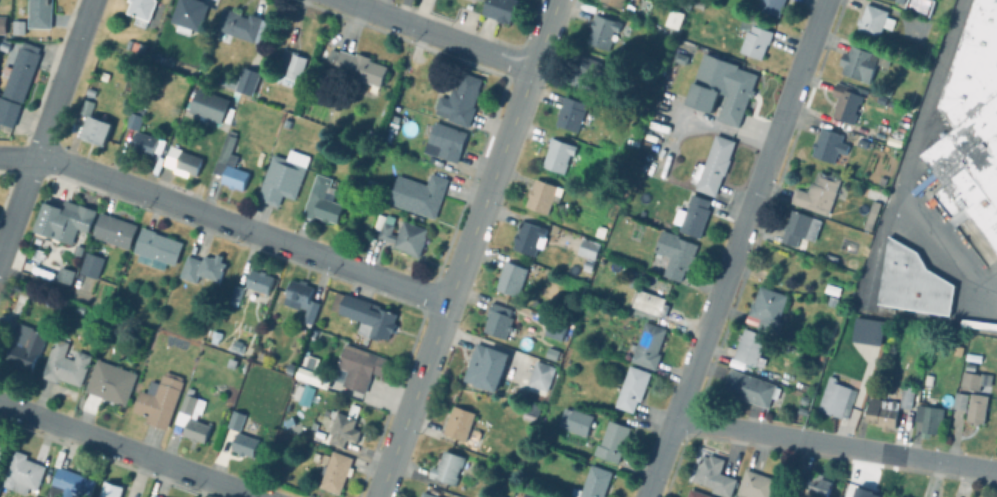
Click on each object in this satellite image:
building: (478, 0)
building: (900, 0)
building: (895, 1)
building: (620, 3)
building: (915, 6)
building: (770, 7)
road: (365, 9)
building: (500, 9)
building: (139, 11)
building: (38, 14)
building: (188, 15)
building: (674, 19)
road: (817, 20)
building: (869, 21)
building: (1, 25)
building: (240, 25)
building: (17, 27)
building: (601, 31)
road: (544, 35)
building: (752, 36)
road: (461, 44)
building: (3, 45)
building: (683, 45)
building: (136, 48)
building: (679, 58)
building: (856, 63)
building: (291, 64)
building: (357, 69)
building: (19, 72)
building: (583, 73)
building: (227, 81)
building: (246, 81)
building: (721, 89)
building: (882, 91)
building: (459, 101)
building: (844, 103)
building: (206, 106)
building: (84, 107)
building: (8, 112)
building: (570, 114)
building: (132, 118)
road: (46, 127)
building: (391, 128)
building: (969, 129)
building: (95, 130)
building: (893, 138)
building: (443, 142)
building: (141, 144)
building: (860, 144)
building: (828, 146)
building: (557, 154)
building: (168, 155)
building: (186, 163)
building: (227, 164)
building: (713, 166)
road: (905, 168)
building: (282, 176)
building: (819, 192)
building: (418, 194)
building: (542, 195)
building: (321, 201)
building: (871, 214)
building: (693, 216)
building: (62, 219)
road: (225, 224)
building: (799, 228)
building: (113, 230)
building: (400, 233)
building: (529, 237)
building: (156, 246)
building: (588, 248)
building: (36, 253)
building: (676, 253)
building: (91, 264)
building: (587, 264)
building: (202, 266)
road: (726, 268)
building: (64, 274)
building: (512, 278)
building: (259, 280)
road: (455, 283)
building: (911, 285)
building: (832, 289)
building: (237, 292)
building: (300, 297)
building: (831, 301)
building: (16, 304)
building: (652, 304)
building: (766, 309)
building: (365, 315)
building: (498, 319)
building: (555, 329)
building: (870, 330)
building: (24, 345)
building: (648, 345)
building: (749, 346)
building: (971, 356)
building: (488, 363)
building: (64, 365)
building: (359, 366)
building: (312, 372)
building: (539, 378)
building: (926, 378)
building: (972, 379)
building: (110, 381)
building: (632, 388)
building: (750, 388)
building: (305, 395)
building: (907, 396)
building: (835, 398)
building: (159, 399)
building: (957, 399)
building: (973, 407)
building: (881, 412)
building: (192, 416)
building: (238, 416)
building: (528, 416)
building: (925, 418)
building: (575, 420)
building: (458, 422)
building: (342, 425)
building: (316, 434)
building: (612, 441)
building: (244, 443)
road: (835, 444)
building: (1, 450)
road: (125, 452)
building: (449, 467)
building: (335, 471)
building: (21, 472)
building: (713, 474)
building: (593, 483)
building: (70, 484)
building: (755, 484)
building: (815, 484)
building: (110, 489)
building: (697, 493)
building: (427, 494)
building: (532, 494)
building: (153, 495)
building: (499, 496)
building: (900, 496)

